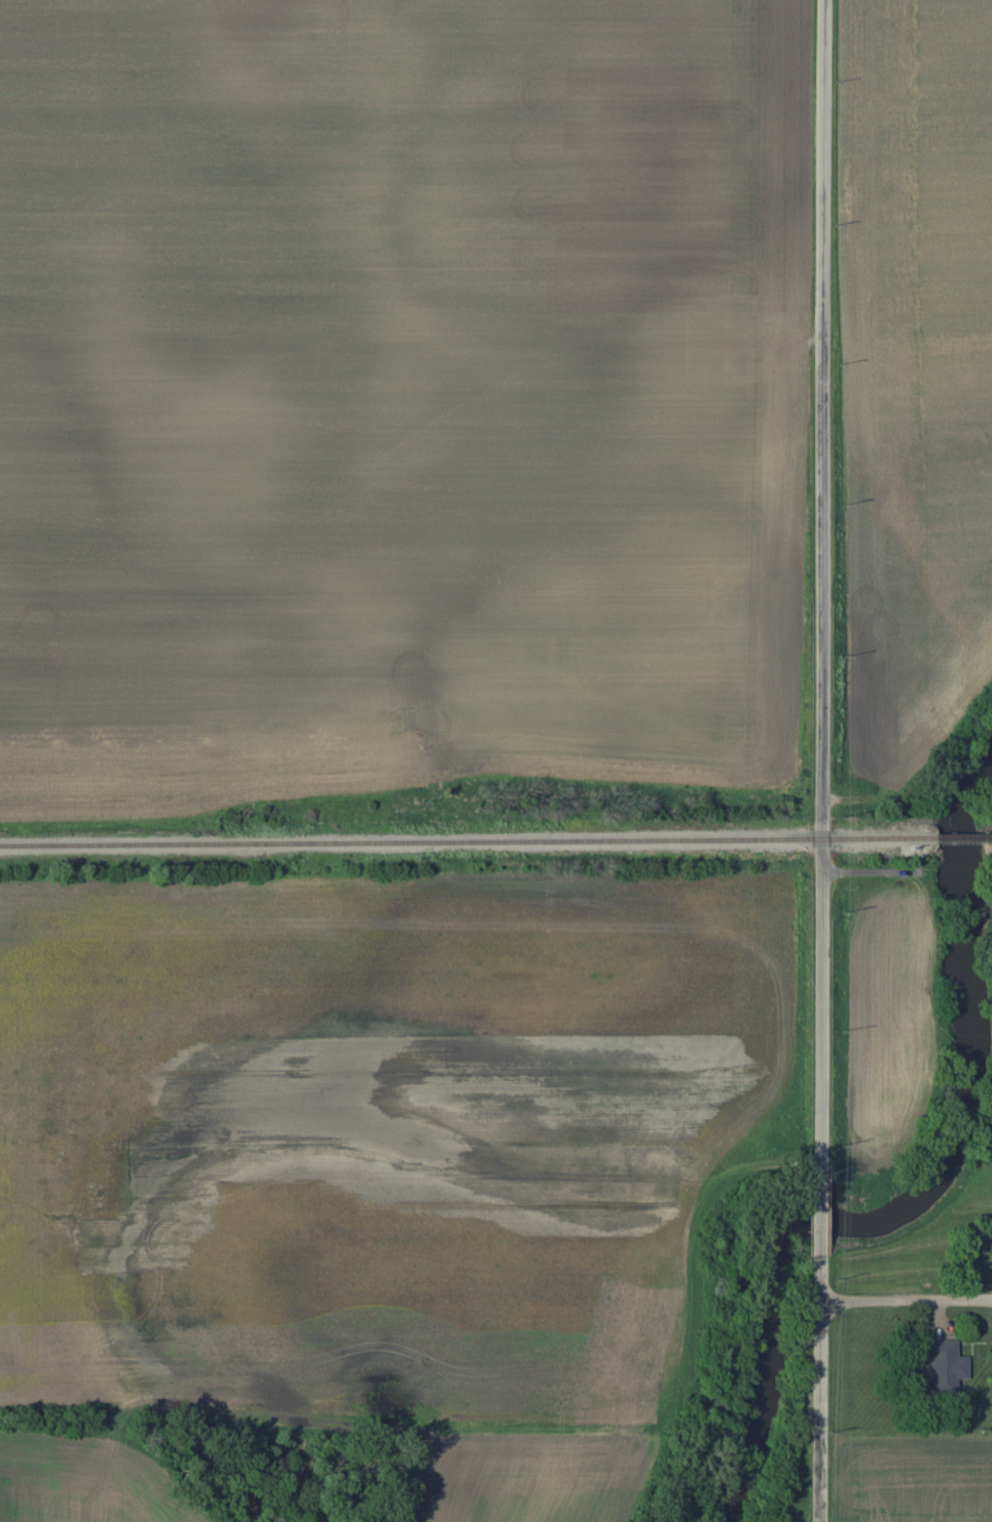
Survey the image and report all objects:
road: (823, 418)
railway: (964, 837)
railway: (468, 841)
road: (822, 1005)
road: (821, 1214)
road: (821, 1279)
road: (906, 1301)
building: (945, 1367)
road: (821, 1412)

